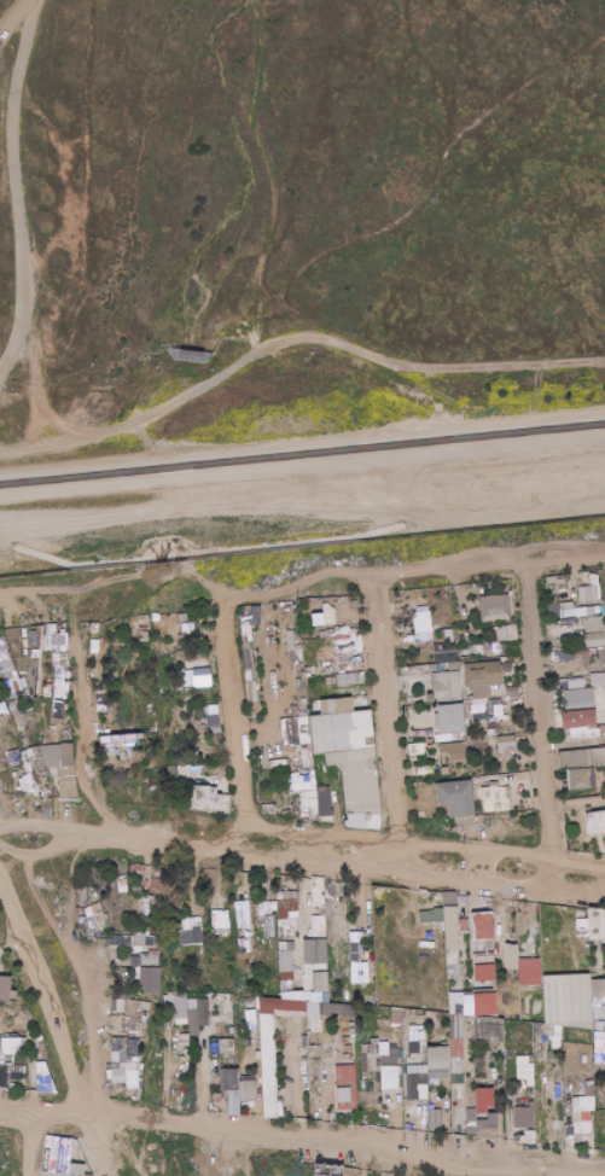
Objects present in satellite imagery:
road: (17, 22)
road: (17, 185)
road: (174, 400)
road: (302, 441)
road: (302, 465)
road: (302, 532)
road: (4, 559)
road: (413, 570)
road: (111, 578)
building: (593, 587)
building: (598, 587)
building: (555, 590)
building: (511, 593)
building: (587, 593)
building: (327, 599)
building: (343, 599)
building: (355, 604)
building: (325, 605)
building: (566, 605)
building: (287, 606)
building: (423, 607)
building: (495, 607)
building: (554, 610)
building: (601, 610)
building: (306, 612)
building: (581, 612)
building: (256, 615)
building: (330, 616)
building: (182, 618)
building: (318, 618)
building: (127, 619)
building: (577, 621)
building: (488, 622)
building: (157, 623)
building: (516, 623)
building: (597, 623)
building: (91, 624)
building: (95, 625)
building: (142, 625)
building: (401, 627)
building: (424, 627)
building: (186, 628)
building: (270, 628)
building: (343, 630)
building: (328, 631)
building: (495, 631)
building: (512, 631)
building: (502, 633)
building: (290, 634)
building: (313, 634)
building: (146, 635)
building: (246, 635)
building: (359, 636)
building: (62, 638)
building: (332, 638)
building: (412, 638)
building: (584, 638)
building: (595, 639)
building: (52, 640)
building: (513, 640)
building: (30, 641)
building: (272, 641)
building: (291, 644)
building: (345, 644)
building: (467, 644)
building: (424, 645)
building: (359, 646)
building: (491, 647)
building: (553, 648)
building: (126, 650)
building: (555, 653)
building: (601, 653)
building: (584, 654)
building: (566, 656)
building: (6, 657)
building: (249, 658)
building: (362, 660)
building: (454, 665)
building: (435, 666)
building: (105, 668)
building: (415, 669)
building: (502, 671)
building: (597, 671)
building: (68, 673)
building: (11, 674)
building: (251, 674)
building: (477, 674)
building: (303, 675)
building: (203, 676)
building: (190, 677)
building: (274, 677)
building: (362, 677)
building: (348, 679)
building: (598, 679)
building: (331, 680)
building: (0, 681)
building: (357, 685)
building: (560, 685)
building: (18, 686)
building: (315, 686)
building: (321, 686)
building: (447, 686)
building: (309, 687)
building: (330, 687)
building: (339, 687)
building: (116, 688)
building: (35, 689)
building: (594, 689)
building: (10, 691)
building: (60, 691)
building: (320, 691)
building: (342, 692)
building: (481, 692)
building: (252, 695)
building: (283, 695)
building: (303, 697)
building: (321, 697)
building: (101, 698)
building: (312, 698)
building: (363, 698)
building: (431, 698)
building: (578, 699)
building: (319, 701)
building: (322, 703)
building: (43, 704)
building: (338, 705)
building: (412, 708)
building: (499, 709)
road: (541, 709)
building: (59, 712)
road: (235, 714)
building: (214, 715)
building: (254, 715)
building: (450, 717)
building: (578, 717)
road: (384, 722)
building: (413, 724)
building: (217, 728)
building: (206, 729)
building: (295, 729)
building: (306, 729)
building: (421, 729)
building: (56, 730)
building: (341, 732)
building: (588, 732)
building: (572, 733)
road: (82, 734)
building: (568, 734)
building: (140, 735)
building: (130, 737)
building: (450, 737)
building: (161, 738)
building: (219, 738)
building: (141, 739)
building: (522, 739)
building: (594, 739)
building: (112, 740)
building: (517, 740)
building: (505, 741)
building: (127, 743)
building: (298, 746)
building: (434, 746)
building: (124, 747)
building: (111, 750)
building: (455, 751)
building: (52, 753)
building: (68, 753)
building: (437, 753)
building: (127, 755)
building: (308, 756)
building: (597, 756)
building: (446, 757)
building: (575, 758)
building: (266, 768)
building: (66, 770)
building: (444, 770)
building: (174, 772)
building: (356, 774)
building: (581, 778)
building: (302, 781)
building: (28, 782)
building: (68, 786)
building: (174, 787)
building: (206, 796)
building: (456, 797)
building: (495, 797)
building: (295, 798)
building: (187, 799)
building: (324, 799)
building: (222, 805)
building: (306, 807)
building: (269, 808)
building: (588, 809)
building: (594, 810)
building: (285, 811)
building: (362, 819)
building: (467, 821)
building: (595, 821)
road: (180, 836)
road: (482, 851)
building: (161, 869)
building: (136, 871)
building: (132, 877)
road: (479, 880)
building: (303, 881)
building: (159, 883)
building: (123, 885)
building: (110, 889)
building: (133, 889)
building: (335, 891)
building: (126, 892)
building: (320, 892)
building: (438, 897)
building: (450, 900)
building: (157, 902)
building: (489, 906)
building: (149, 908)
building: (266, 910)
building: (322, 910)
building: (243, 912)
building: (290, 912)
building: (116, 913)
building: (438, 914)
building: (279, 915)
building: (426, 915)
building: (153, 918)
building: (342, 920)
building: (221, 921)
building: (467, 921)
building: (463, 924)
building: (188, 925)
building: (240, 925)
building: (270, 925)
building: (482, 925)
building: (597, 925)
building: (319, 927)
building: (452, 927)
building: (583, 927)
building: (141, 930)
building: (151, 931)
building: (467, 932)
building: (193, 935)
building: (239, 935)
building: (289, 935)
building: (513, 935)
building: (118, 939)
building: (149, 939)
building: (285, 939)
building: (128, 941)
building: (138, 942)
building: (245, 944)
building: (283, 945)
building: (291, 945)
building: (110, 947)
building: (355, 947)
building: (130, 948)
building: (156, 949)
building: (315, 950)
building: (512, 956)
building: (529, 956)
building: (150, 959)
building: (135, 960)
building: (286, 960)
building: (454, 962)
building: (315, 968)
building: (469, 968)
building: (513, 971)
building: (286, 972)
building: (361, 972)
building: (484, 972)
building: (155, 973)
building: (286, 982)
building: (13, 983)
building: (155, 986)
building: (5, 988)
building: (320, 988)
building: (598, 988)
building: (292, 994)
building: (13, 995)
building: (171, 1001)
building: (456, 1002)
building: (469, 1002)
building: (484, 1003)
building: (120, 1005)
building: (283, 1005)
building: (373, 1005)
building: (598, 1008)
building: (173, 1009)
building: (338, 1009)
building: (138, 1011)
building: (314, 1011)
building: (23, 1012)
building: (267, 1012)
building: (145, 1014)
building: (198, 1014)
building: (250, 1014)
building: (159, 1020)
building: (210, 1020)
building: (127, 1021)
building: (24, 1025)
building: (144, 1025)
building: (456, 1025)
building: (599, 1025)
building: (469, 1026)
building: (485, 1026)
building: (229, 1030)
building: (547, 1030)
building: (133, 1032)
building: (303, 1032)
building: (499, 1034)
building: (577, 1035)
building: (16, 1036)
building: (353, 1037)
road: (48, 1038)
building: (116, 1038)
building: (374, 1040)
building: (417, 1041)
building: (14, 1042)
building: (249, 1042)
building: (458, 1042)
building: (129, 1043)
building: (557, 1043)
building: (444, 1044)
building: (570, 1046)
building: (599, 1046)
building: (35, 1047)
building: (384, 1048)
building: (501, 1048)
building: (179, 1049)
building: (215, 1049)
building: (227, 1049)
building: (479, 1052)
building: (123, 1055)
building: (134, 1055)
building: (371, 1056)
building: (10, 1058)
building: (142, 1060)
building: (17, 1061)
building: (39, 1063)
building: (437, 1063)
building: (127, 1064)
building: (228, 1064)
building: (48, 1065)
building: (142, 1065)
building: (269, 1065)
building: (315, 1065)
building: (458, 1066)
building: (14, 1069)
building: (401, 1070)
building: (389, 1072)
building: (132, 1073)
building: (471, 1073)
building: (121, 1075)
building: (16, 1077)
building: (1, 1078)
building: (246, 1078)
building: (140, 1079)
building: (477, 1081)
building: (434, 1082)
building: (121, 1084)
building: (135, 1085)
building: (348, 1085)
building: (589, 1085)
building: (24, 1087)
building: (231, 1088)
building: (417, 1088)
building: (555, 1088)
building: (248, 1090)
building: (458, 1091)
building: (344, 1095)
building: (600, 1095)
building: (138, 1096)
building: (484, 1099)
building: (584, 1104)
building: (248, 1105)
building: (431, 1107)
building: (506, 1111)
building: (384, 1113)
building: (321, 1116)
building: (366, 1116)
building: (482, 1116)
building: (524, 1117)
building: (333, 1118)
building: (436, 1120)
building: (471, 1122)
building: (581, 1125)
building: (488, 1126)
building: (534, 1129)
building: (569, 1129)
building: (531, 1134)
road: (302, 1136)
road: (34, 1142)
road: (233, 1152)
building: (59, 1154)
building: (77, 1168)
building: (86, 1169)
building: (330, 1170)
building: (57, 1174)
building: (324, 1175)

